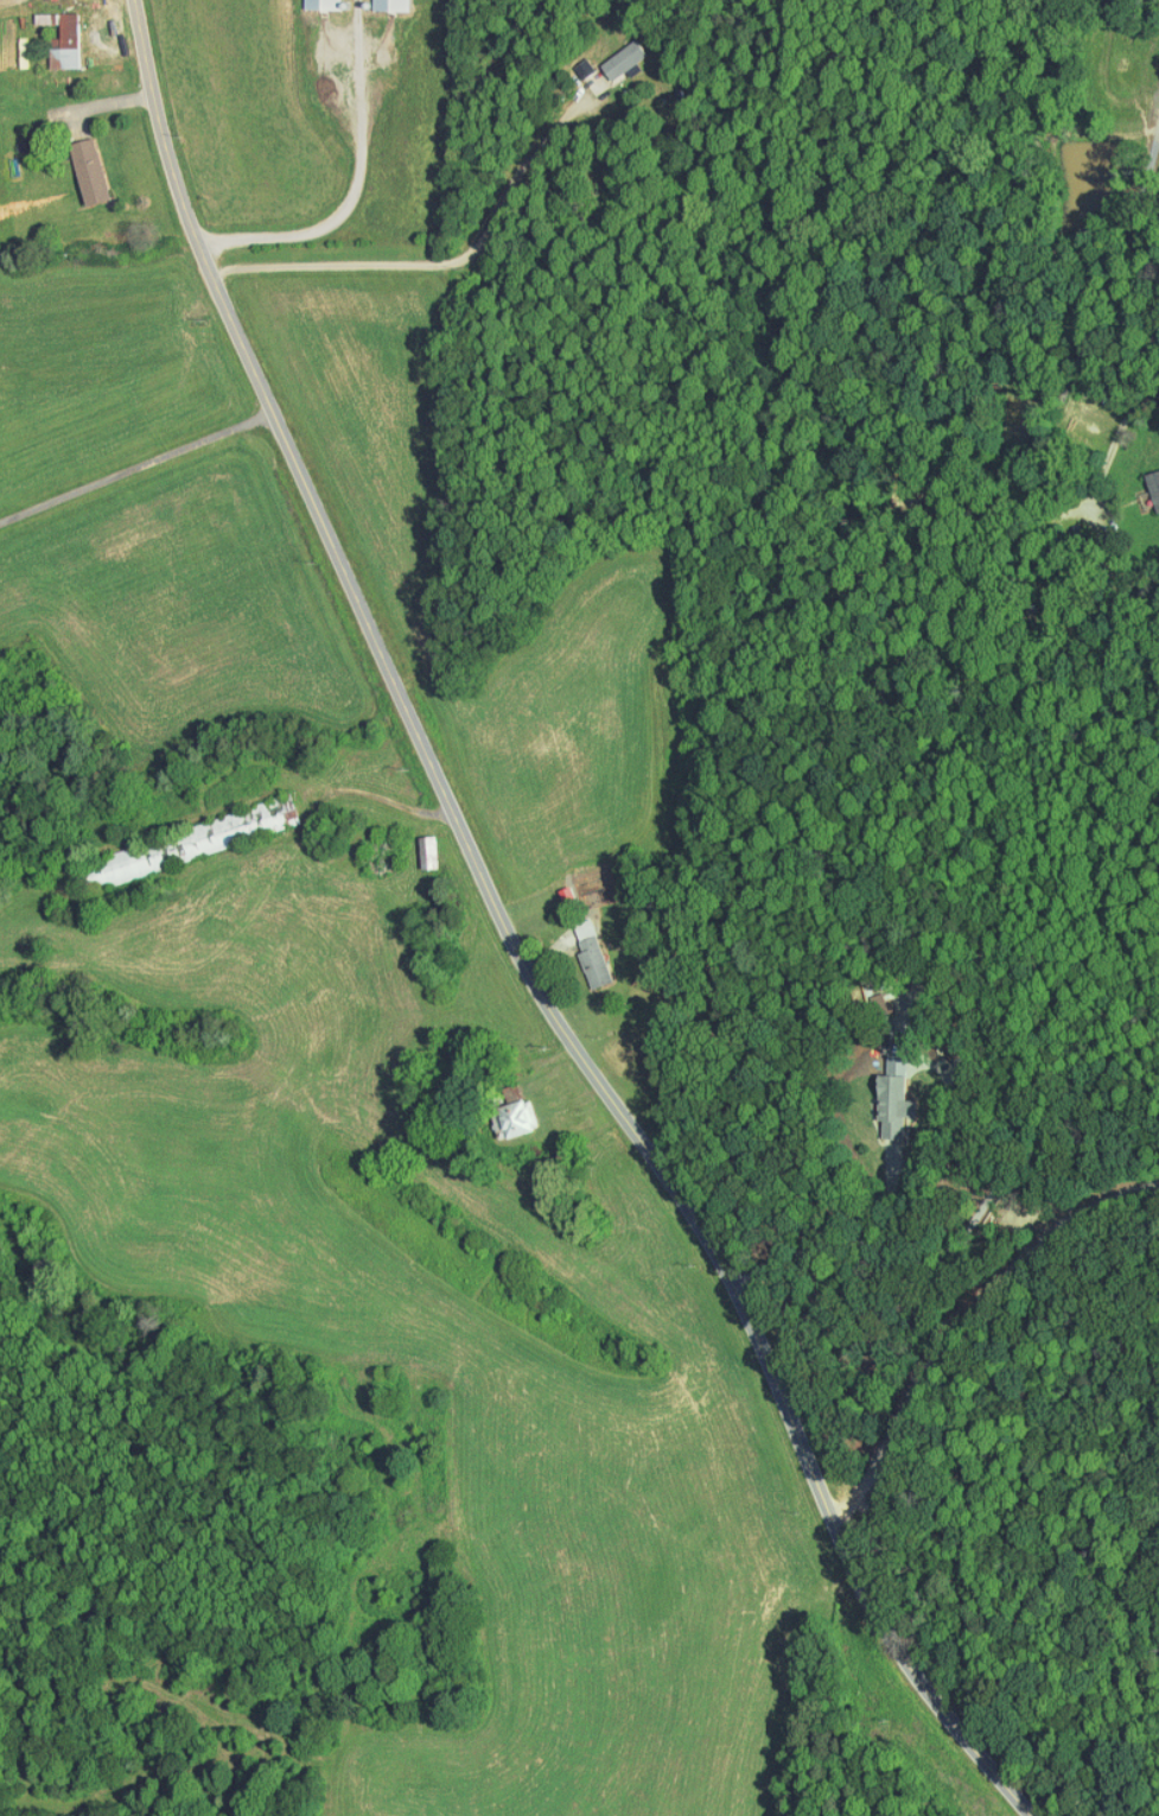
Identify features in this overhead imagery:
building: (304, 0)
building: (378, 1)
building: (58, 34)
building: (611, 52)
building: (82, 164)
road: (1146, 204)
road: (346, 207)
road: (442, 262)
road: (136, 465)
building: (1150, 481)
building: (182, 834)
building: (420, 844)
building: (559, 887)
building: (581, 944)
road: (512, 945)
building: (885, 1088)
building: (514, 1112)
road: (842, 1243)
road: (964, 1331)

